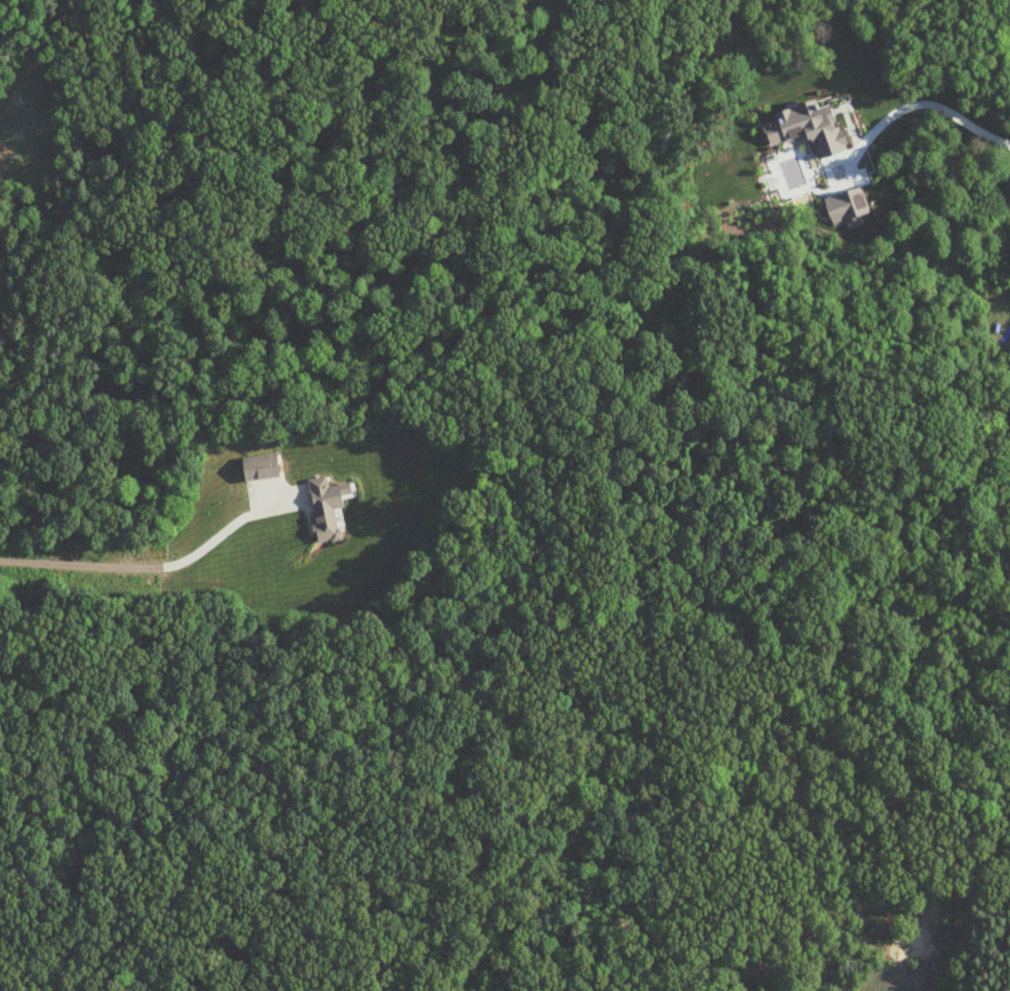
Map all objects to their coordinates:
road: (916, 105)
building: (263, 469)
building: (330, 509)
road: (123, 567)

